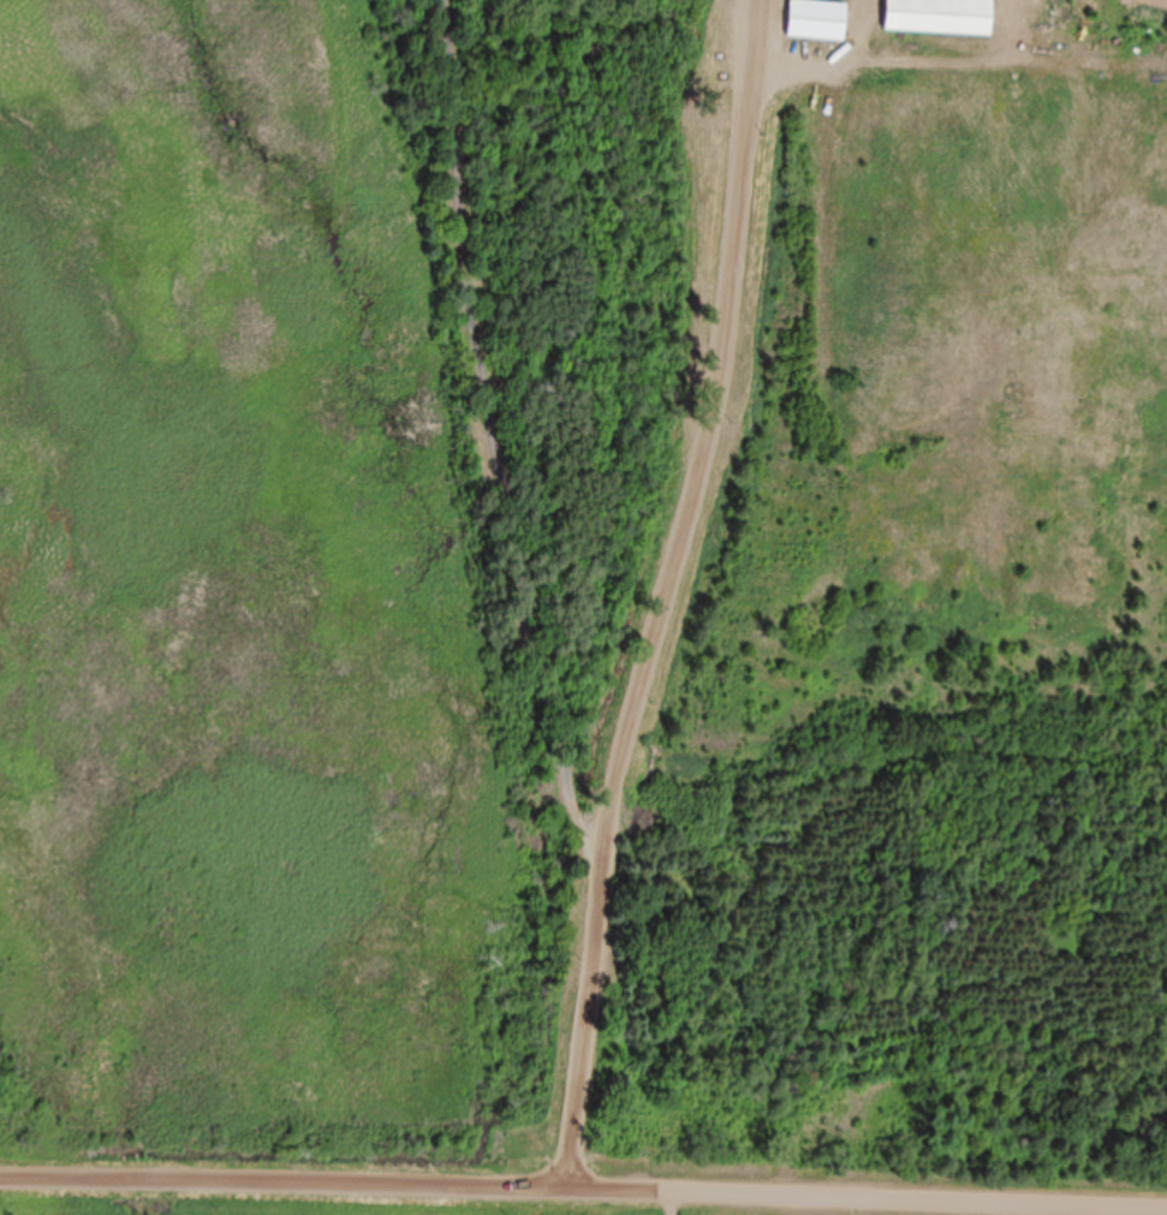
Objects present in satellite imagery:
building: (940, 17)
building: (817, 22)
road: (695, 433)
road: (703, 598)
road: (583, 1191)

